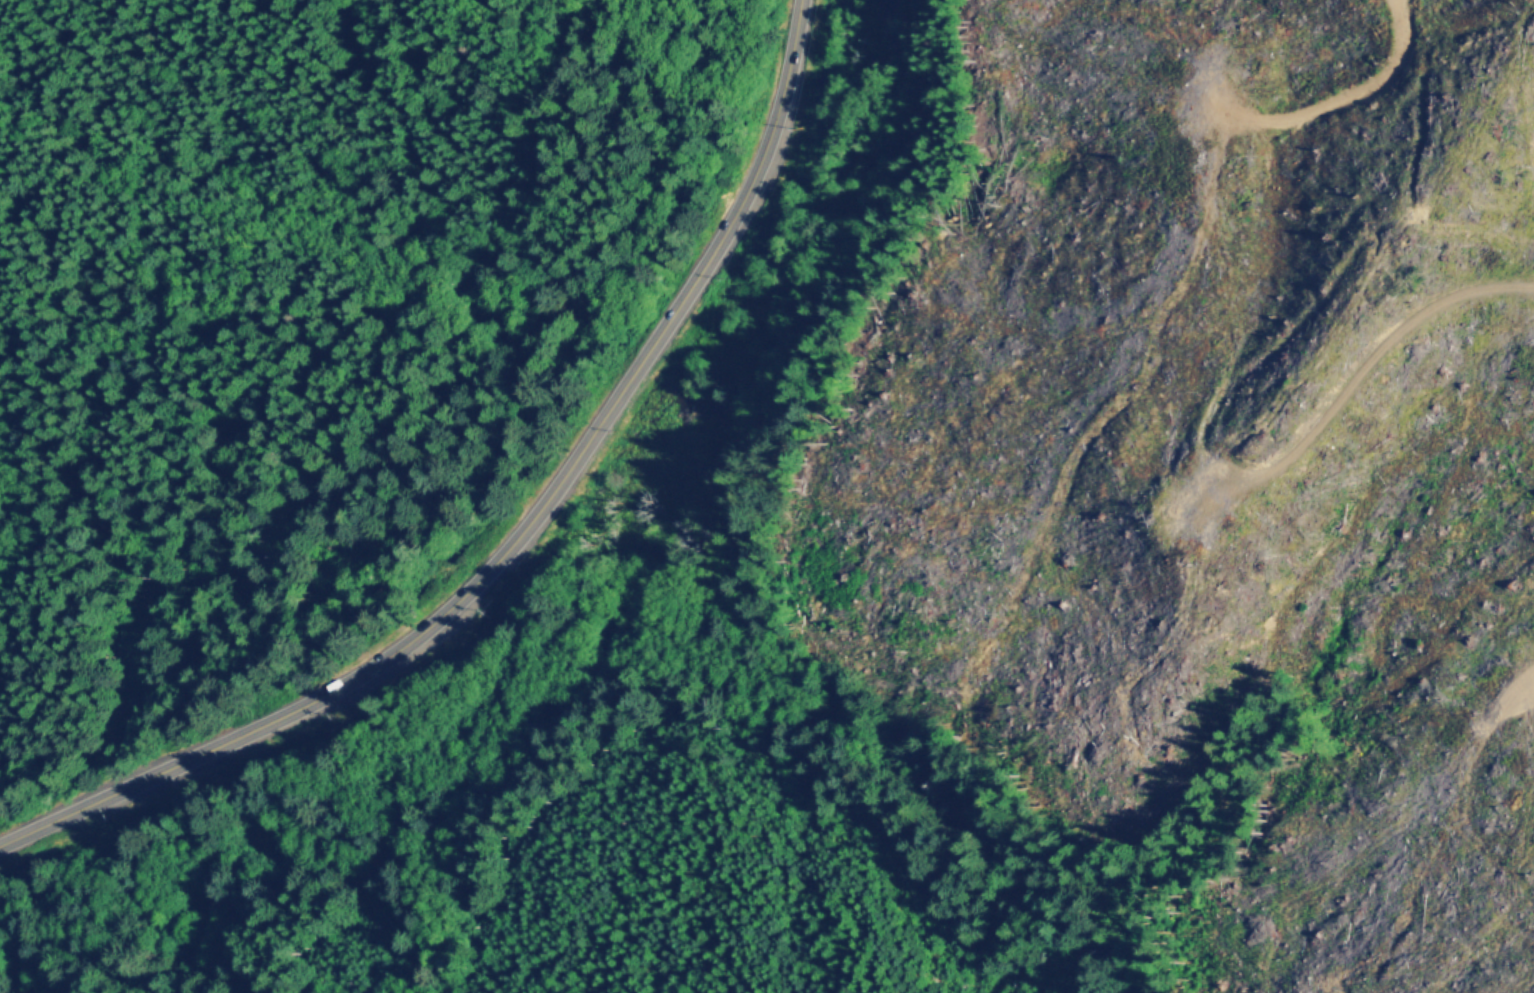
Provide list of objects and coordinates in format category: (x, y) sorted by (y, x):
road: (518, 534)

